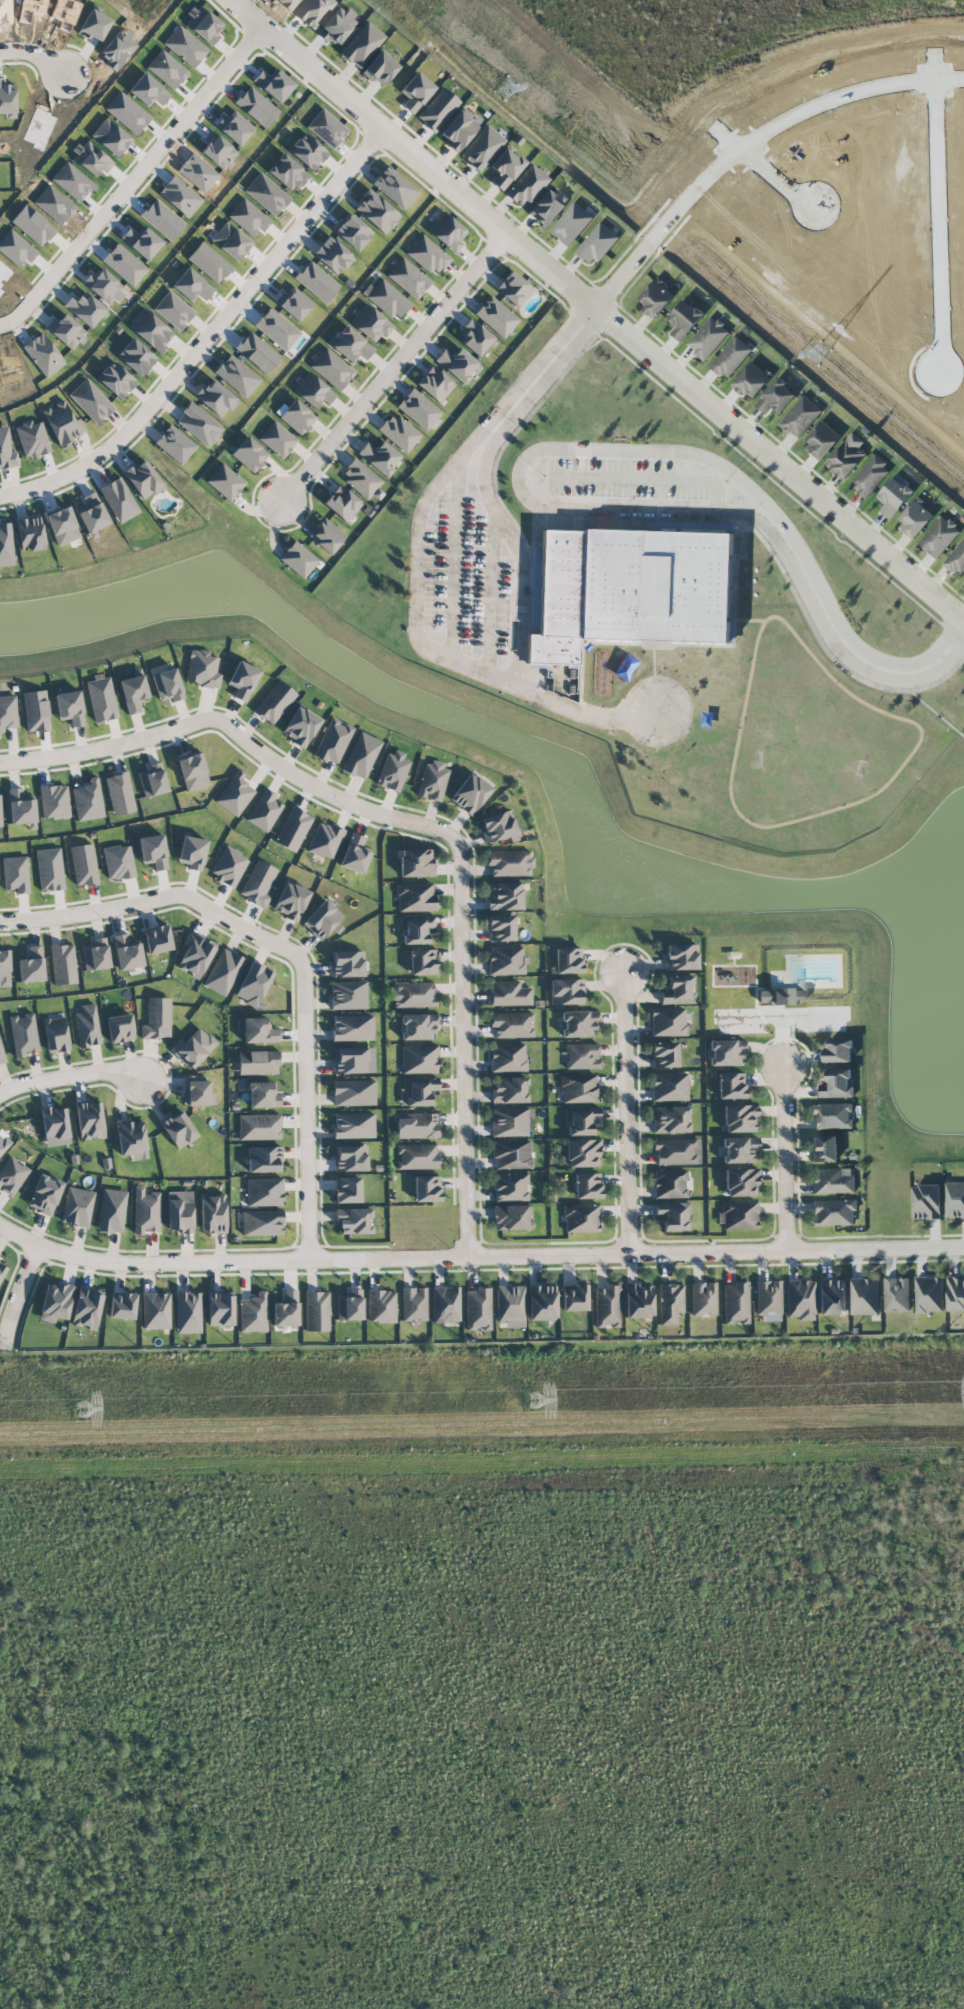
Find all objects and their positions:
building: (313, 11)
power tower: (427, 22)
building: (202, 24)
building: (94, 25)
building: (337, 26)
building: (362, 44)
road: (35, 59)
road: (305, 67)
building: (380, 68)
building: (166, 69)
building: (273, 84)
building: (148, 90)
building: (415, 91)
building: (7, 100)
building: (256, 107)
building: (437, 109)
building: (126, 112)
road: (783, 119)
building: (234, 127)
building: (326, 128)
building: (459, 128)
building: (108, 136)
building: (482, 147)
building: (217, 150)
building: (307, 151)
building: (90, 157)
building: (506, 166)
road: (758, 169)
building: (286, 172)
road: (133, 184)
building: (527, 185)
building: (394, 187)
building: (266, 194)
building: (179, 196)
building: (549, 206)
road: (933, 207)
building: (376, 211)
building: (248, 217)
building: (162, 219)
building: (32, 224)
building: (571, 224)
building: (352, 231)
building: (447, 232)
building: (230, 241)
building: (141, 242)
building: (597, 244)
building: (15, 248)
power tower: (696, 250)
building: (332, 255)
building: (427, 255)
building: (208, 262)
building: (124, 264)
road: (621, 276)
building: (408, 278)
building: (316, 281)
building: (191, 285)
building: (103, 286)
building: (513, 288)
building: (657, 297)
building: (386, 298)
building: (293, 302)
road: (239, 306)
building: (84, 308)
building: (173, 310)
building: (496, 316)
building: (682, 319)
building: (370, 323)
building: (150, 329)
building: (277, 329)
building: (66, 331)
building: (475, 337)
building: (707, 339)
building: (351, 345)
building: (257, 352)
building: (43, 354)
building: (135, 357)
building: (729, 358)
building: (458, 364)
road: (393, 365)
building: (332, 368)
road: (543, 371)
building: (236, 375)
building: (752, 379)
building: (434, 383)
building: (313, 390)
building: (214, 397)
building: (777, 398)
building: (90, 401)
road: (710, 404)
building: (418, 409)
building: (295, 416)
building: (799, 417)
building: (62, 423)
building: (198, 424)
building: (399, 432)
building: (32, 439)
building: (277, 439)
building: (822, 439)
building: (174, 444)
building: (6, 449)
building: (249, 454)
building: (379, 456)
building: (846, 458)
power tower: (961, 475)
building: (360, 478)
road: (513, 478)
building: (868, 478)
building: (142, 479)
building: (225, 481)
building: (118, 499)
building: (892, 500)
building: (341, 502)
building: (92, 514)
building: (913, 520)
building: (62, 525)
building: (30, 534)
building: (325, 535)
building: (939, 538)
building: (6, 544)
building: (298, 559)
building: (956, 560)
building: (628, 589)
building: (535, 597)
building: (733, 630)
road: (840, 639)
building: (202, 669)
road: (470, 676)
building: (242, 680)
building: (167, 685)
building: (133, 693)
building: (101, 699)
building: (274, 702)
building: (69, 707)
building: (35, 711)
building: (7, 712)
road: (579, 713)
road: (208, 718)
building: (300, 726)
building: (332, 741)
building: (361, 755)
building: (393, 770)
building: (192, 771)
building: (152, 780)
building: (432, 781)
building: (120, 793)
building: (234, 793)
building: (470, 794)
building: (88, 800)
building: (53, 801)
building: (21, 807)
building: (264, 810)
building: (0, 813)
building: (497, 825)
building: (293, 829)
building: (325, 840)
building: (153, 851)
building: (192, 852)
building: (354, 854)
building: (118, 862)
building: (416, 862)
building: (509, 863)
building: (83, 864)
building: (229, 867)
building: (49, 869)
building: (15, 874)
building: (258, 883)
building: (505, 896)
building: (415, 897)
building: (290, 901)
building: (322, 919)
building: (416, 928)
building: (501, 928)
building: (157, 939)
building: (127, 952)
building: (95, 954)
building: (195, 954)
building: (680, 956)
building: (506, 960)
building: (568, 960)
building: (422, 962)
building: (347, 963)
building: (63, 964)
building: (31, 965)
building: (4, 968)
building: (223, 972)
building: (253, 984)
building: (679, 990)
building: (566, 991)
building: (508, 993)
building: (413, 994)
building: (348, 995)
building: (781, 996)
road: (304, 997)
road: (462, 1015)
building: (157, 1018)
building: (667, 1022)
building: (578, 1023)
building: (512, 1025)
building: (87, 1026)
building: (417, 1026)
building: (352, 1027)
building: (119, 1028)
building: (258, 1030)
building: (24, 1034)
building: (55, 1034)
building: (194, 1048)
building: (838, 1051)
building: (725, 1052)
building: (664, 1054)
building: (2, 1056)
building: (581, 1056)
building: (508, 1057)
building: (419, 1059)
building: (353, 1060)
building: (258, 1062)
road: (72, 1081)
building: (838, 1084)
building: (731, 1085)
building: (669, 1086)
building: (579, 1088)
building: (510, 1089)
building: (417, 1090)
building: (196, 1092)
building: (353, 1092)
building: (263, 1095)
road: (626, 1113)
building: (832, 1116)
building: (740, 1118)
building: (670, 1119)
building: (89, 1120)
building: (580, 1120)
building: (510, 1121)
building: (353, 1125)
building: (54, 1126)
building: (417, 1126)
building: (259, 1127)
building: (178, 1128)
building: (131, 1138)
building: (4, 1142)
building: (739, 1149)
building: (824, 1149)
building: (677, 1151)
building: (580, 1153)
building: (511, 1154)
building: (417, 1156)
building: (350, 1158)
road: (784, 1158)
building: (264, 1159)
building: (12, 1175)
building: (833, 1181)
building: (741, 1182)
building: (671, 1184)
building: (587, 1185)
building: (510, 1186)
building: (426, 1188)
building: (347, 1189)
building: (264, 1191)
building: (45, 1194)
building: (954, 1200)
building: (926, 1202)
building: (77, 1206)
building: (112, 1210)
building: (146, 1211)
building: (179, 1211)
building: (212, 1212)
building: (833, 1212)
building: (672, 1215)
building: (738, 1215)
building: (512, 1217)
building: (581, 1218)
building: (354, 1220)
building: (261, 1222)
road: (679, 1252)
road: (150, 1264)
building: (2, 1270)
road: (18, 1293)
building: (896, 1295)
building: (928, 1295)
building: (955, 1295)
building: (832, 1296)
building: (864, 1296)
building: (574, 1297)
building: (703, 1298)
building: (768, 1299)
building: (800, 1299)
building: (638, 1300)
building: (55, 1302)
building: (542, 1302)
building: (670, 1303)
building: (735, 1303)
building: (413, 1304)
building: (445, 1304)
building: (122, 1305)
building: (349, 1305)
building: (510, 1305)
building: (381, 1306)
building: (607, 1306)
building: (86, 1308)
building: (220, 1308)
building: (477, 1308)
building: (285, 1309)
building: (155, 1310)
building: (317, 1310)
building: (188, 1312)
building: (252, 1313)
power tower: (532, 1401)
power tower: (81, 1410)

